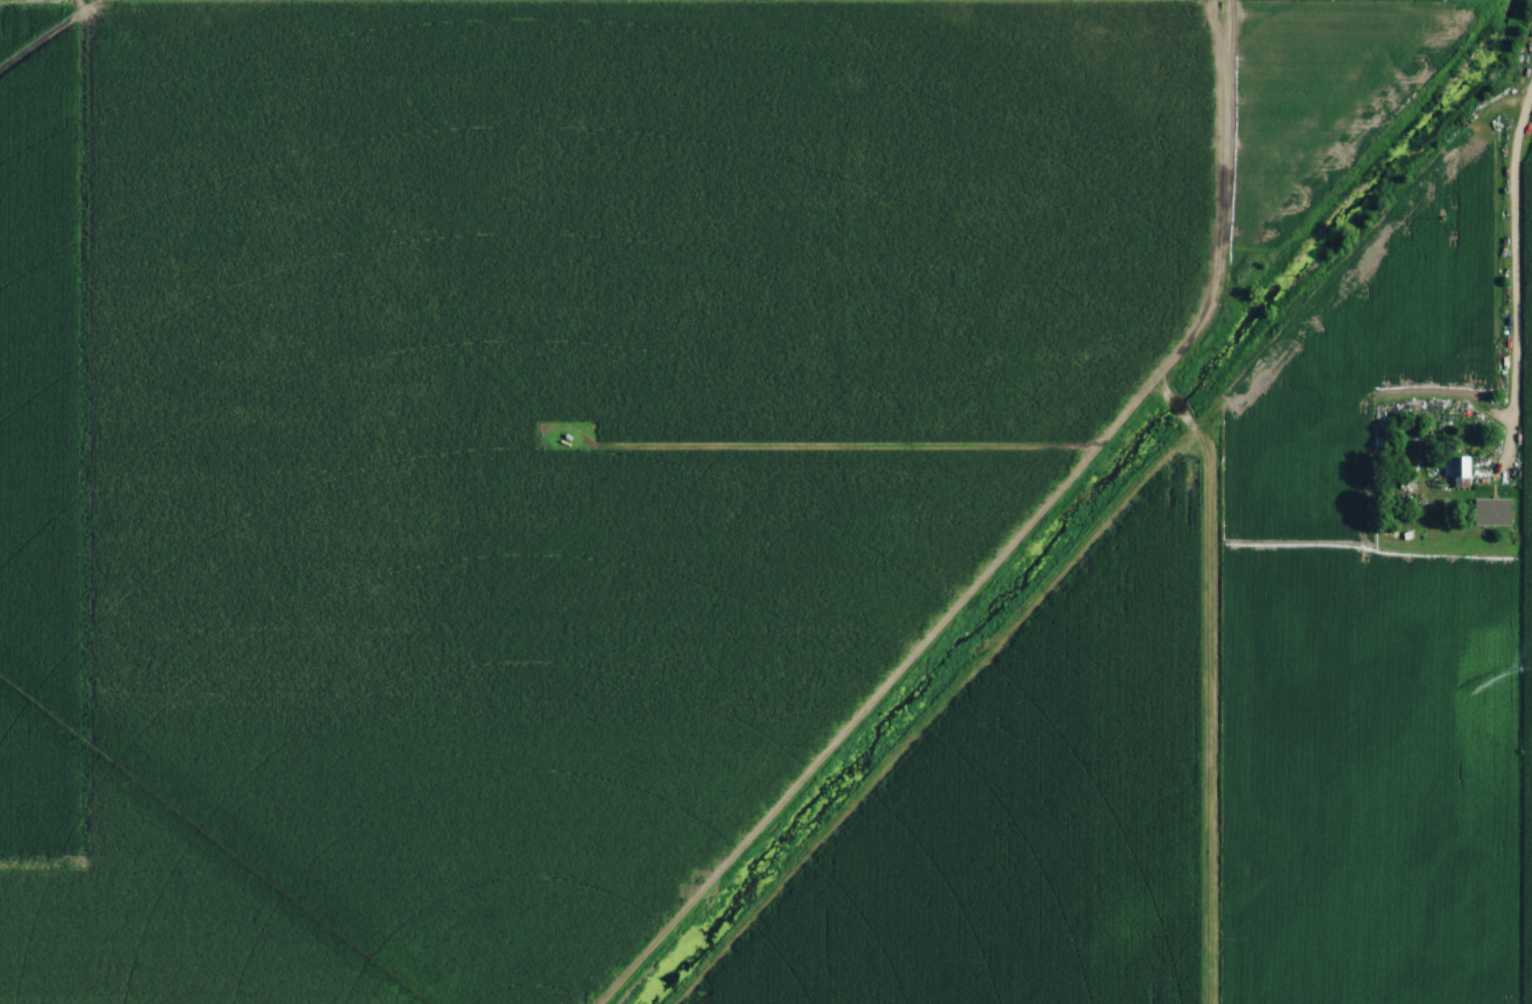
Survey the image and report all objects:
road: (1511, 291)
building: (1458, 470)
building: (1494, 513)

